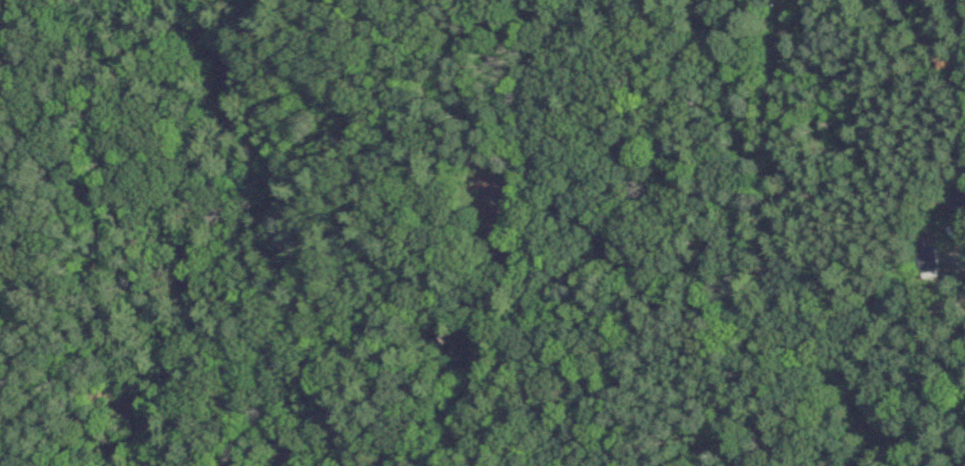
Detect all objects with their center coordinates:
road: (724, 48)
road: (641, 159)
road: (757, 291)
road: (857, 330)

